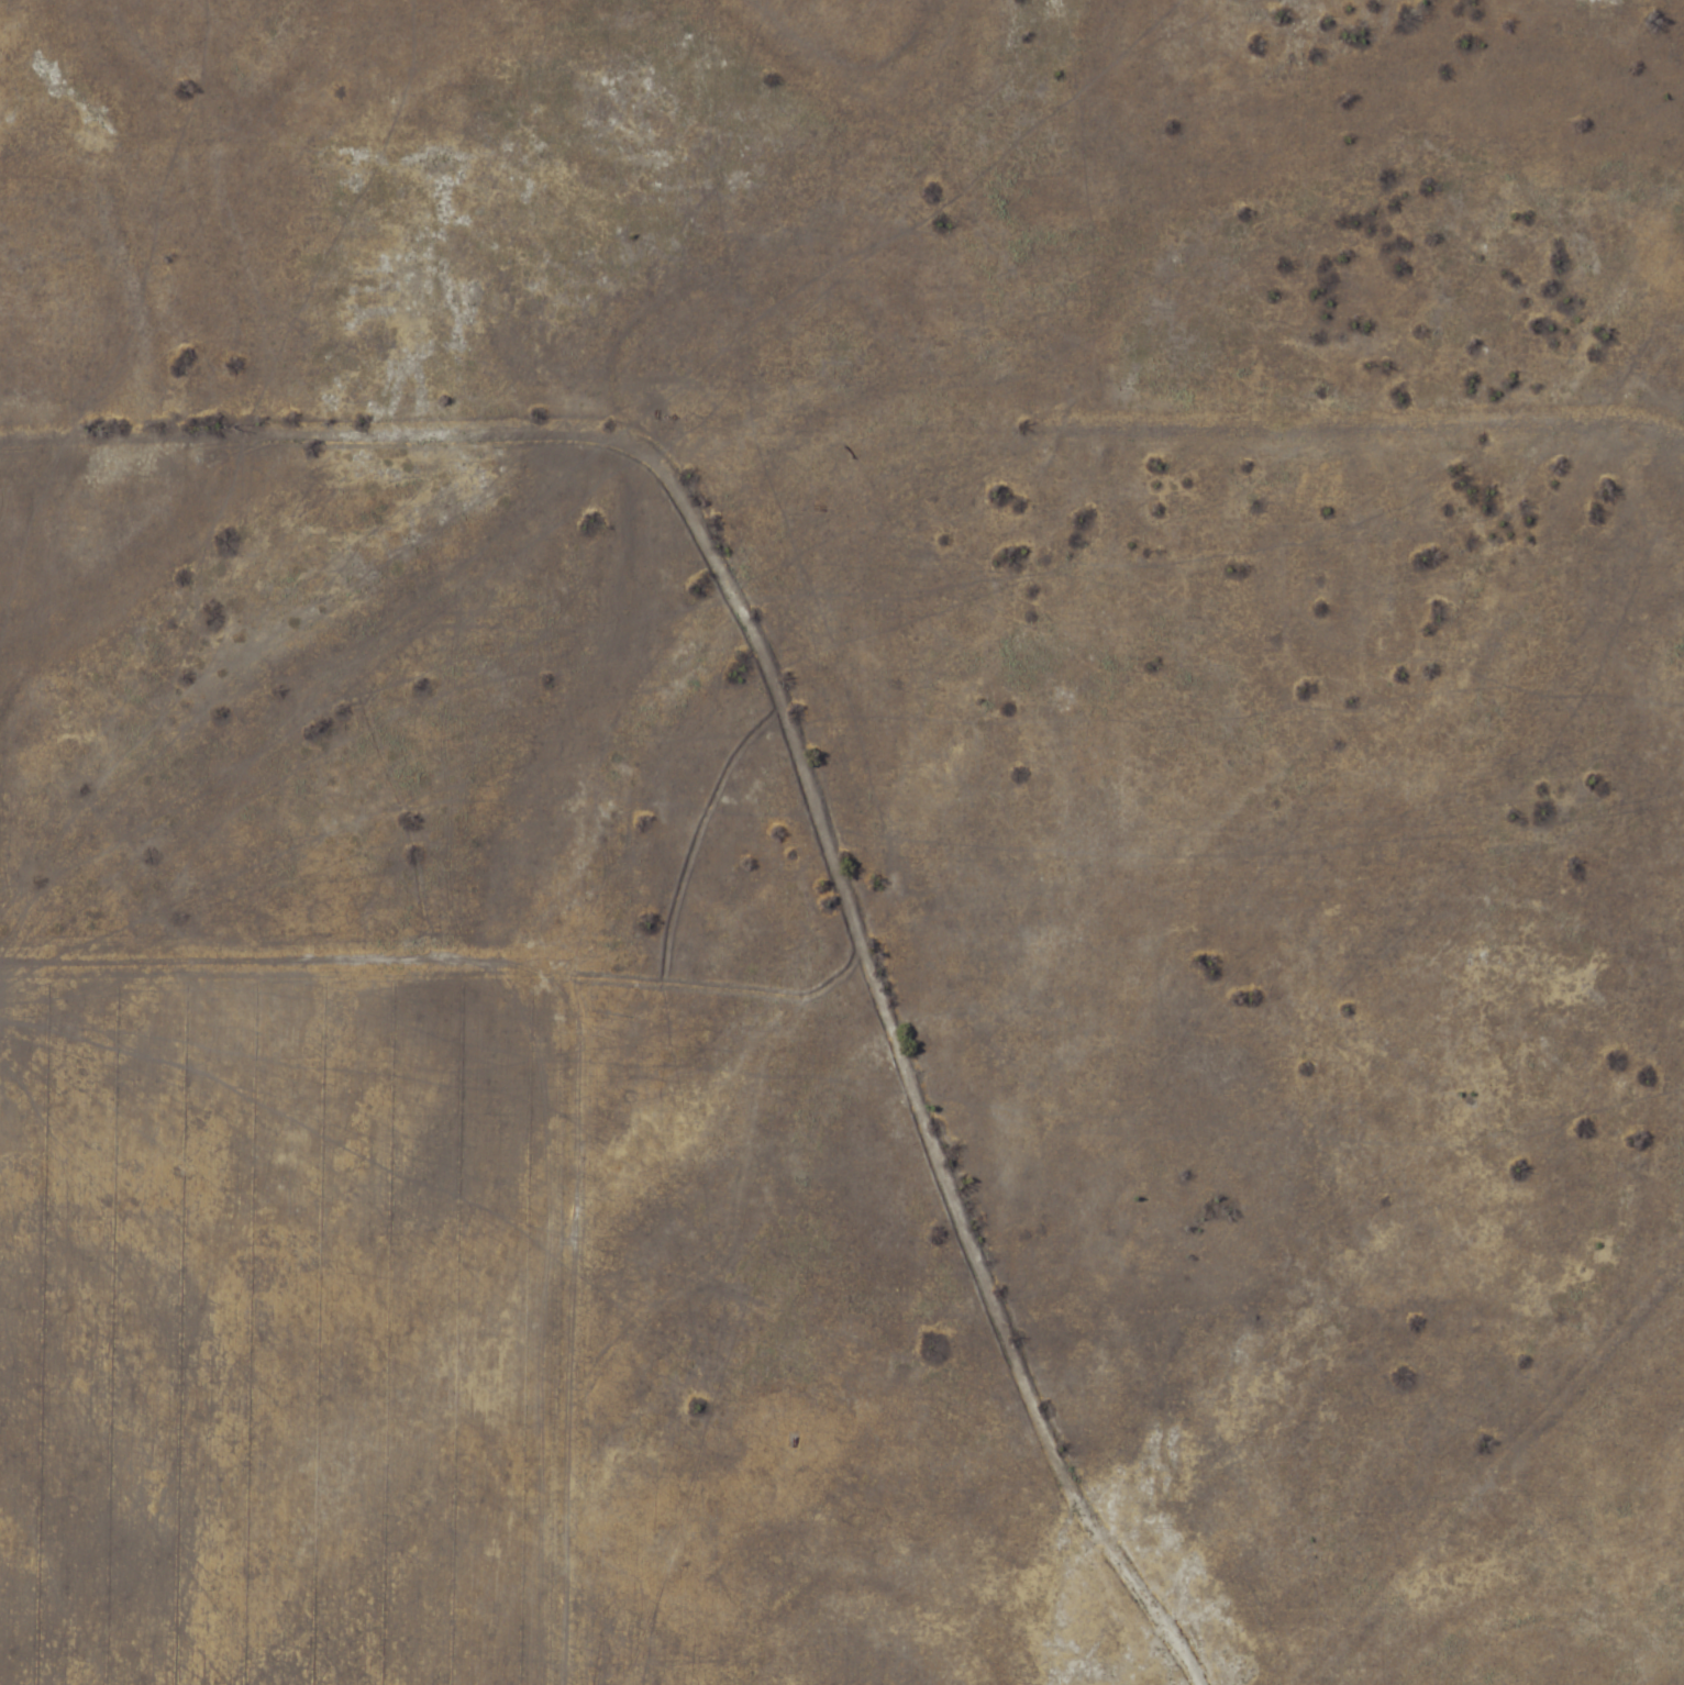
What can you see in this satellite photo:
crop: (287, 1323)

